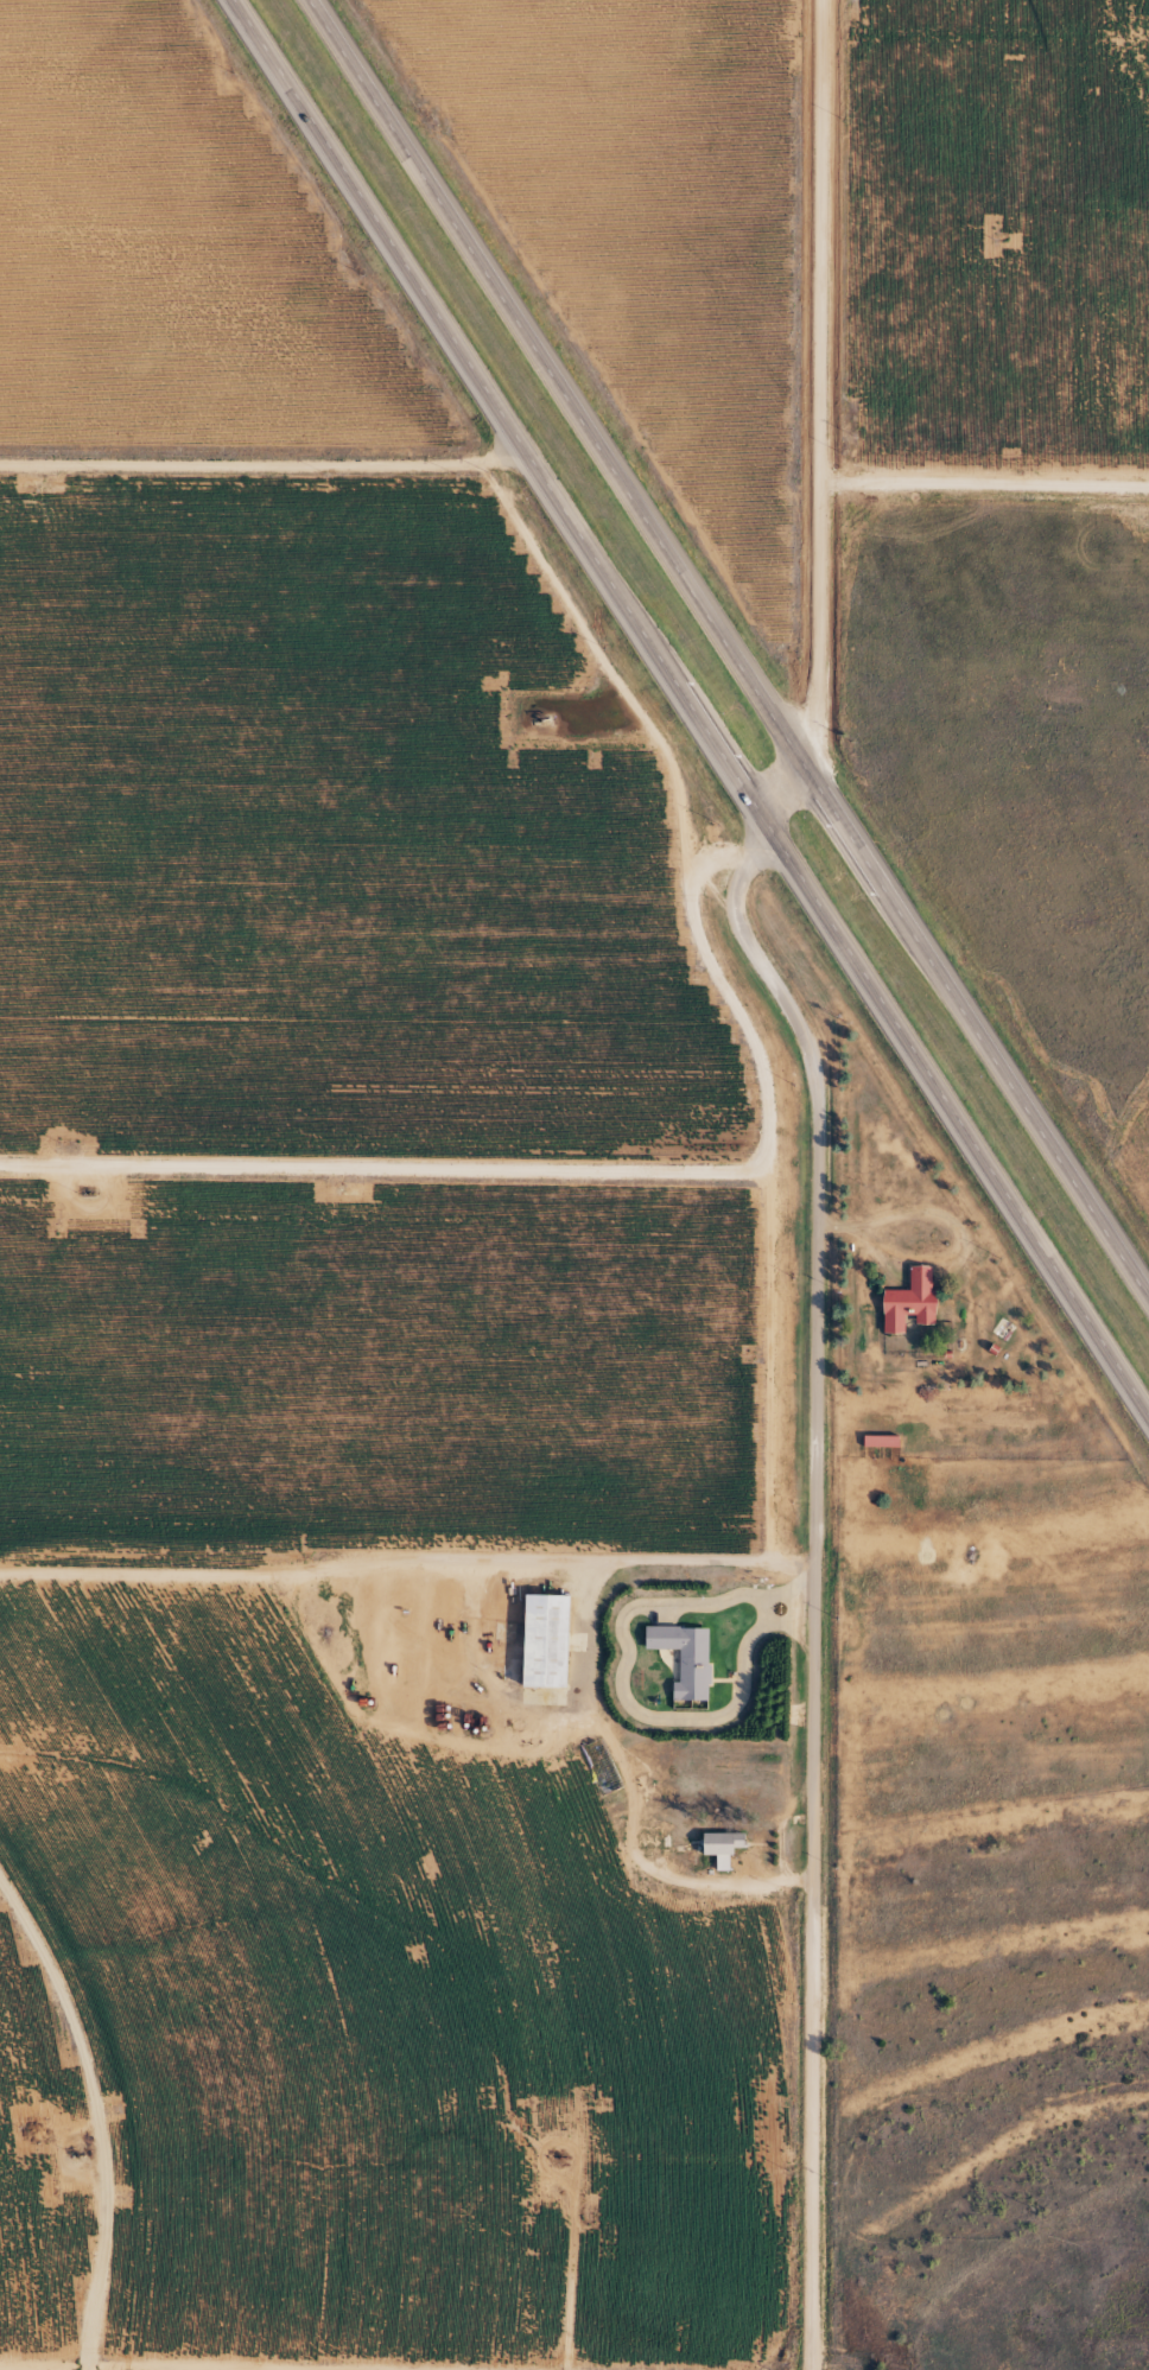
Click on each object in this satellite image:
road: (268, 475)
road: (723, 649)
road: (687, 710)
road: (826, 1165)
building: (907, 1301)
building: (878, 1441)
building: (541, 1641)
building: (683, 1658)
road: (336, 1672)
road: (624, 1683)
building: (718, 1848)

